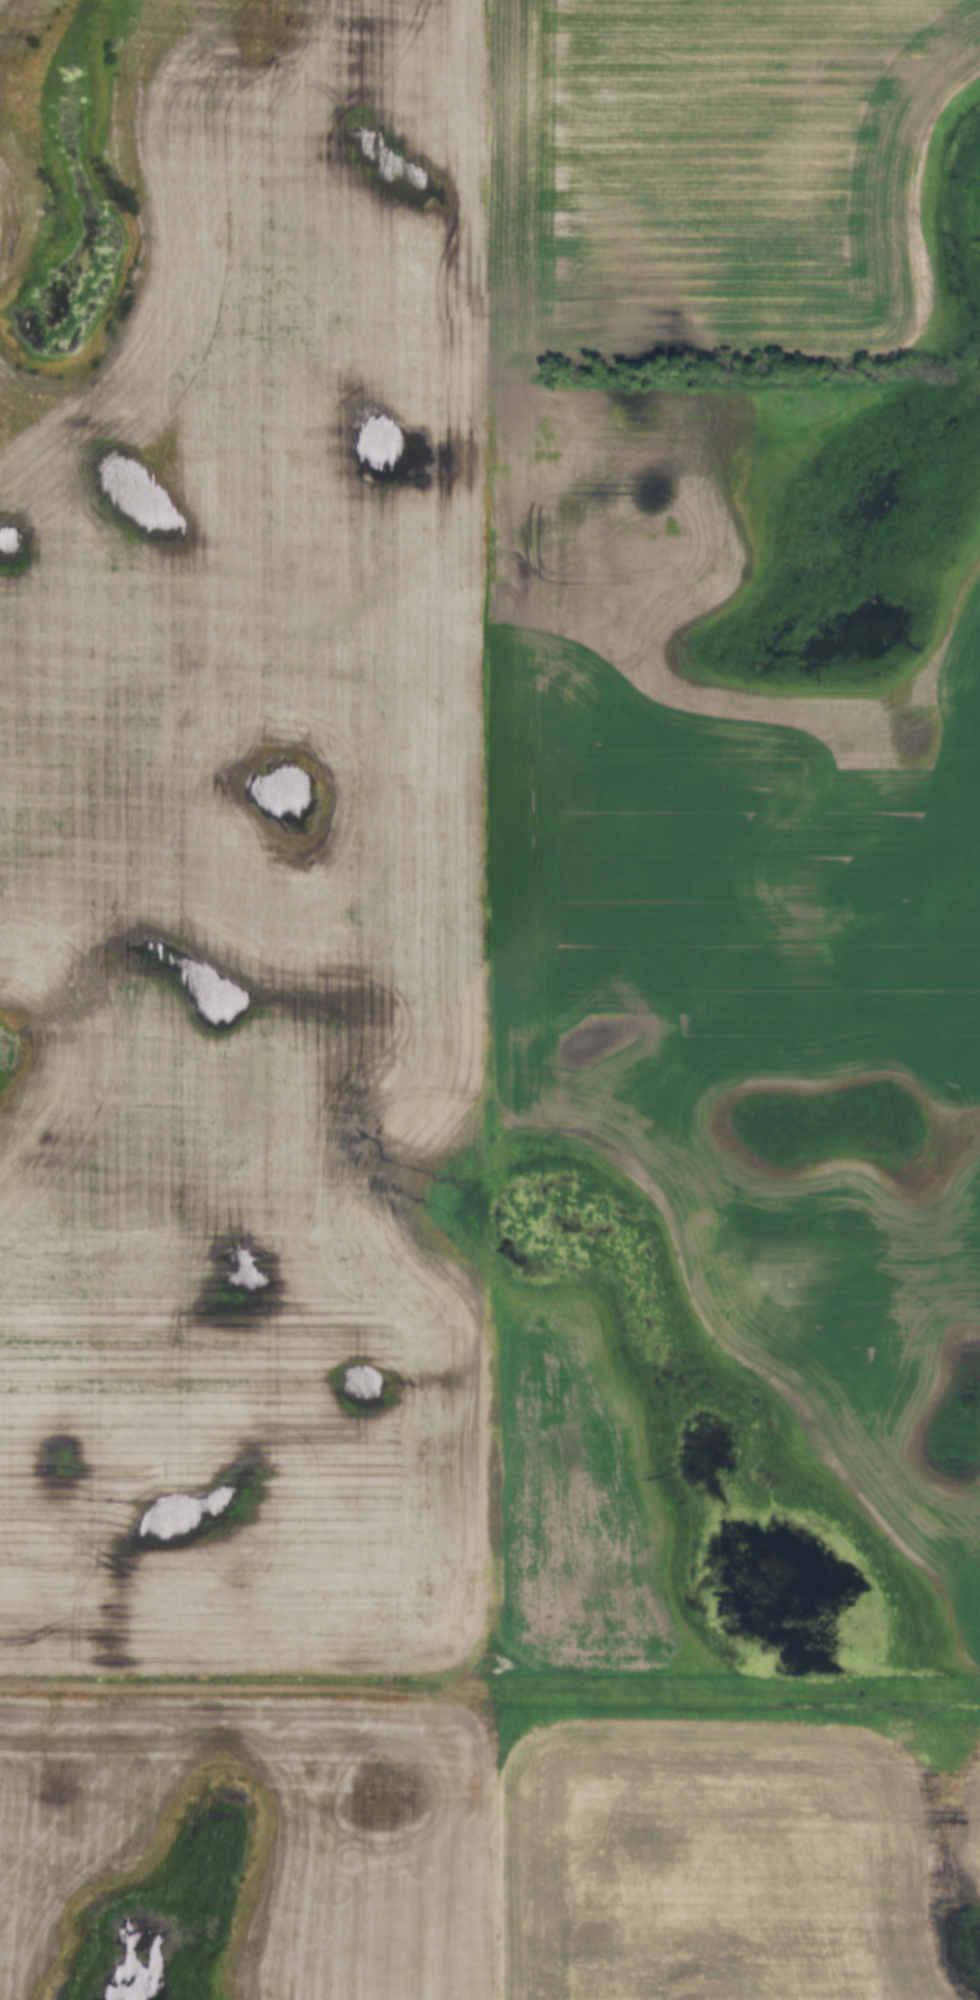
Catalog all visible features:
road: (814, 1688)

